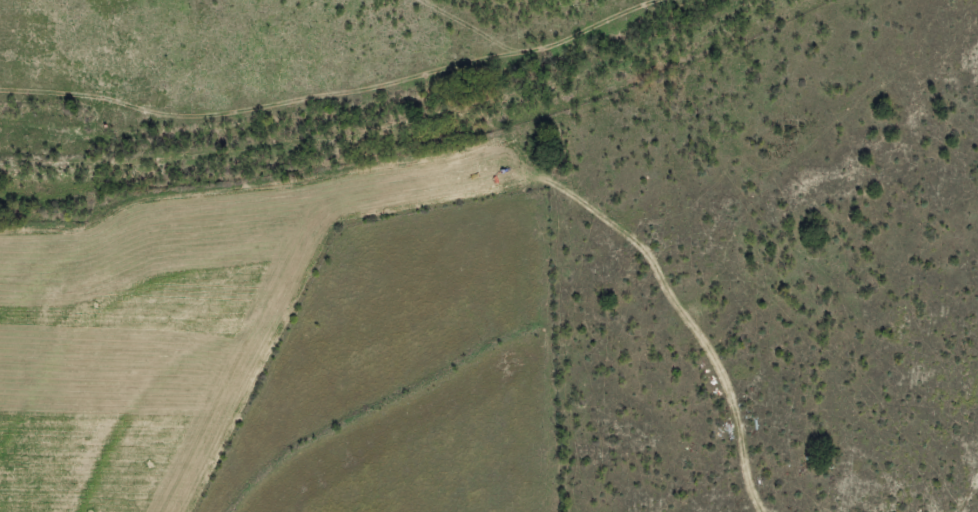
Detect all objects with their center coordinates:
railway: (385, 119)

